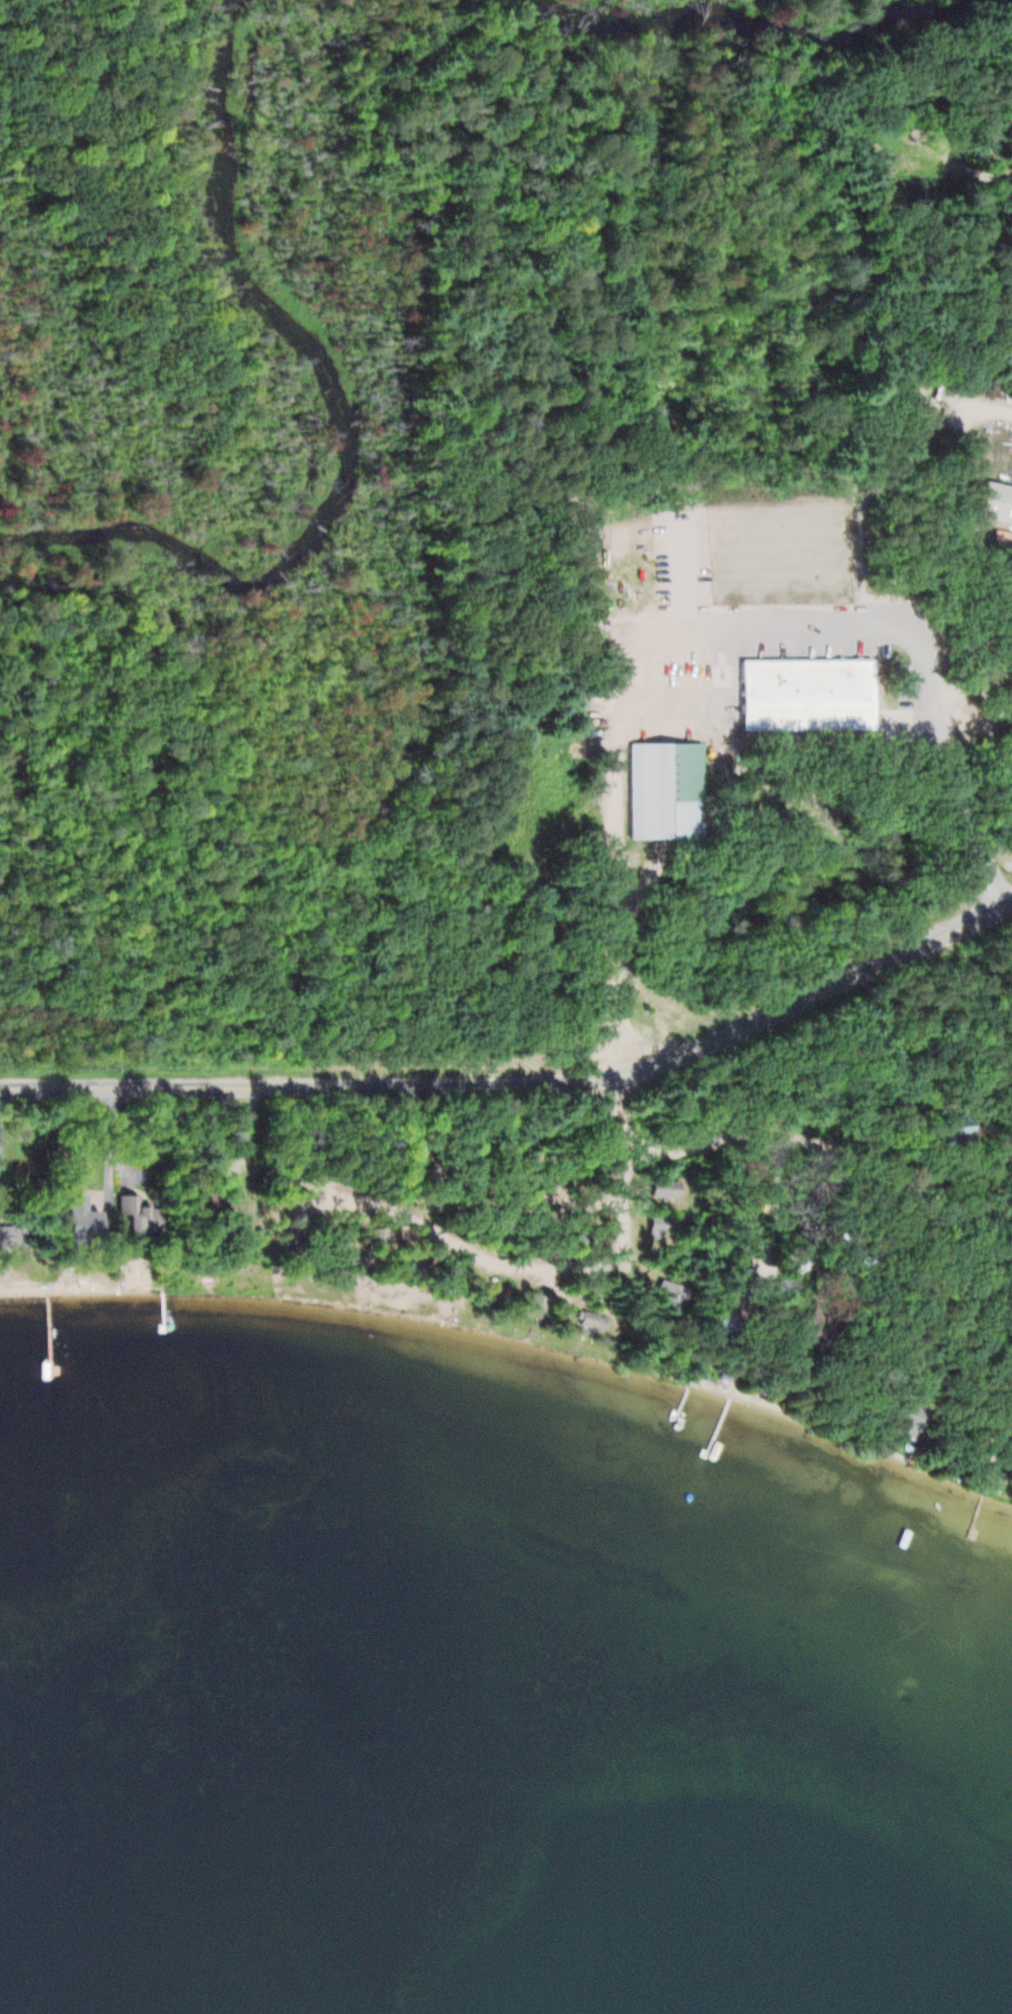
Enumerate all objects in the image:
building: (994, 499)
road: (704, 631)
parking lot: (723, 648)
building: (796, 692)
road: (972, 695)
building: (660, 788)
road: (525, 1085)
road: (612, 1110)
road: (821, 1151)
road: (623, 1203)
building: (95, 1220)
building: (382, 1239)
building: (338, 1243)
road: (460, 1251)
building: (449, 1272)
building: (501, 1292)
building: (541, 1307)
building: (899, 1421)

